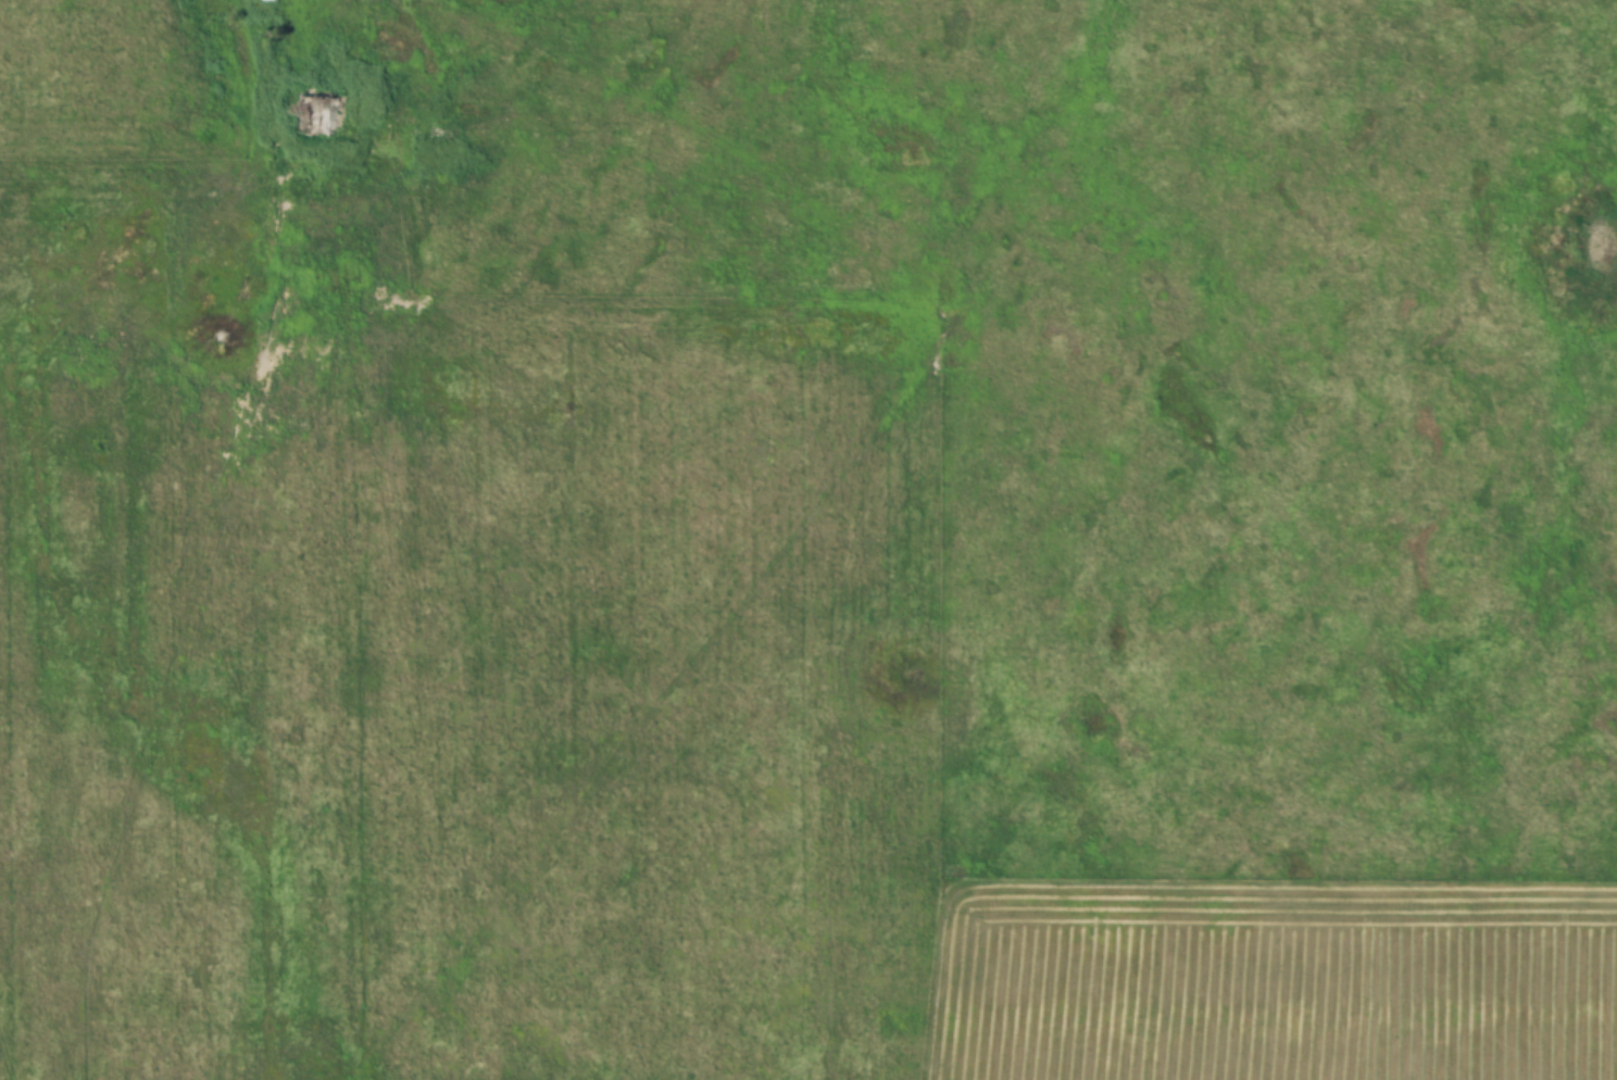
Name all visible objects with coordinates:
building: (310, 113)

